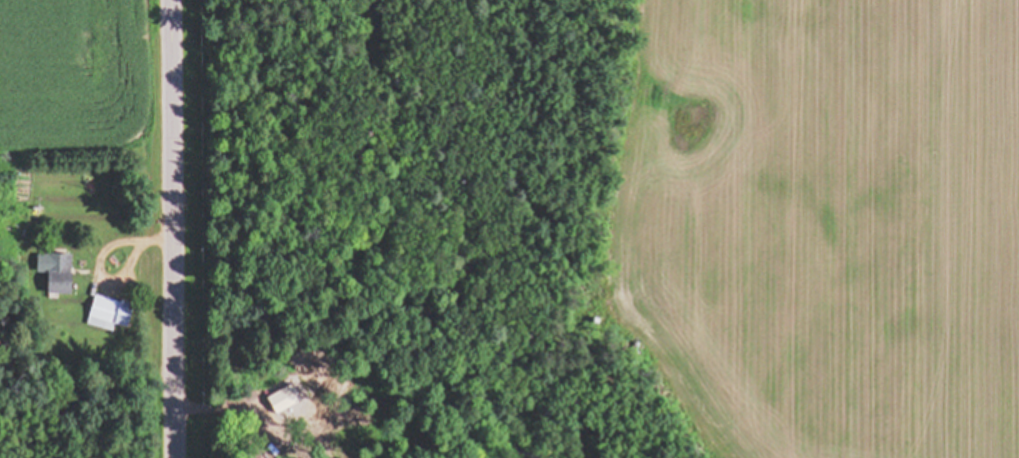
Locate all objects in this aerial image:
road: (174, 229)
building: (61, 274)
building: (112, 312)
building: (280, 401)

